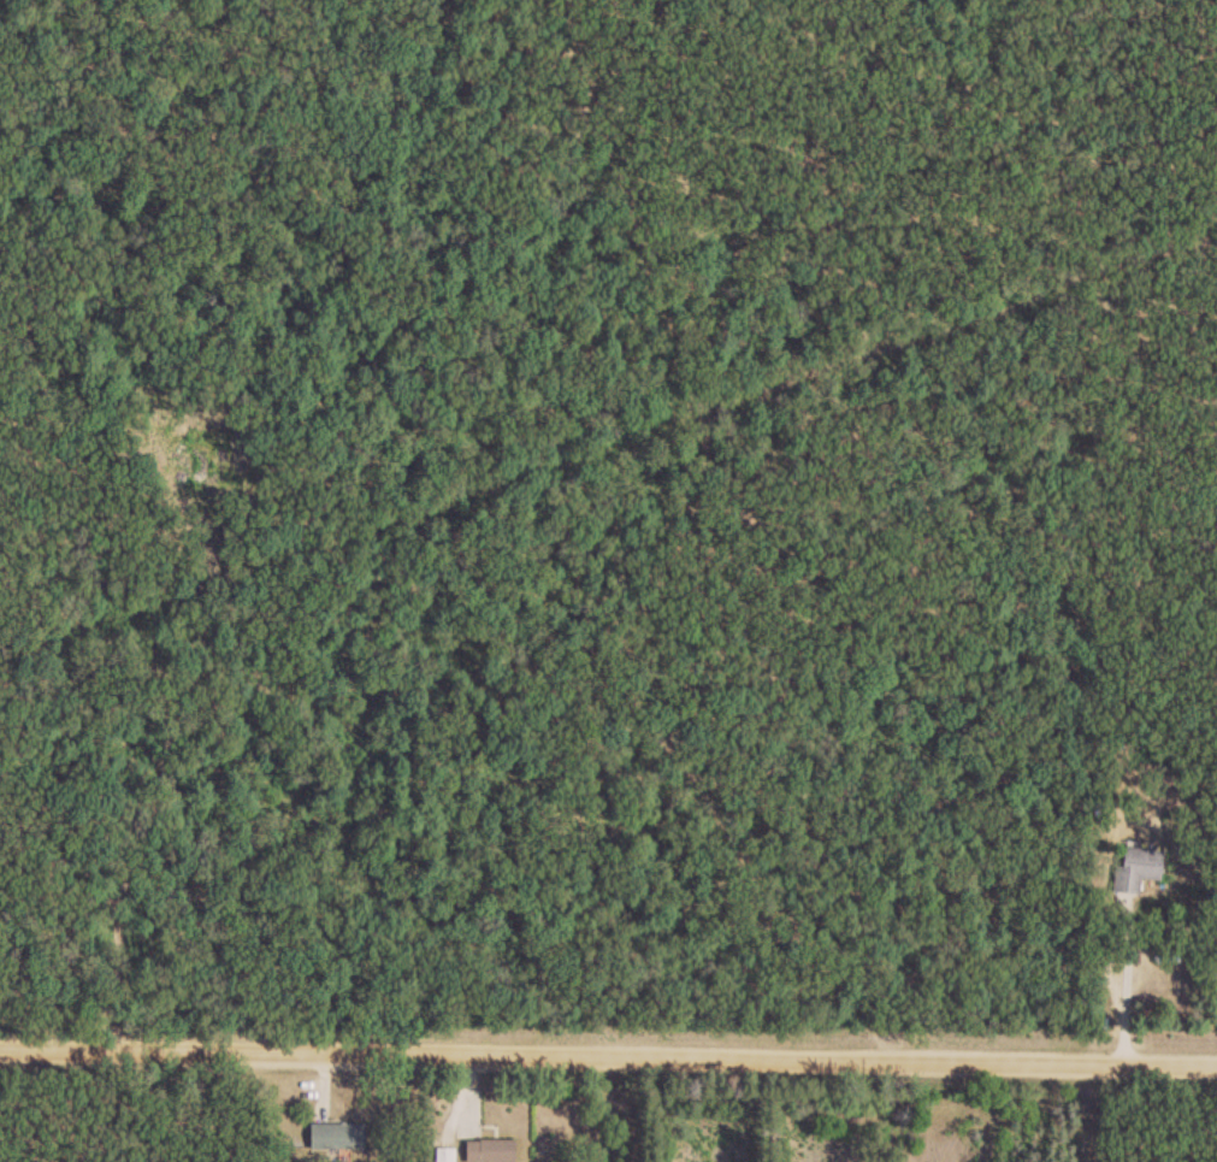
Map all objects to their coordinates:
building: (1139, 868)
road: (1127, 980)
road: (608, 1058)
road: (392, 1109)
building: (339, 1137)
building: (492, 1150)

